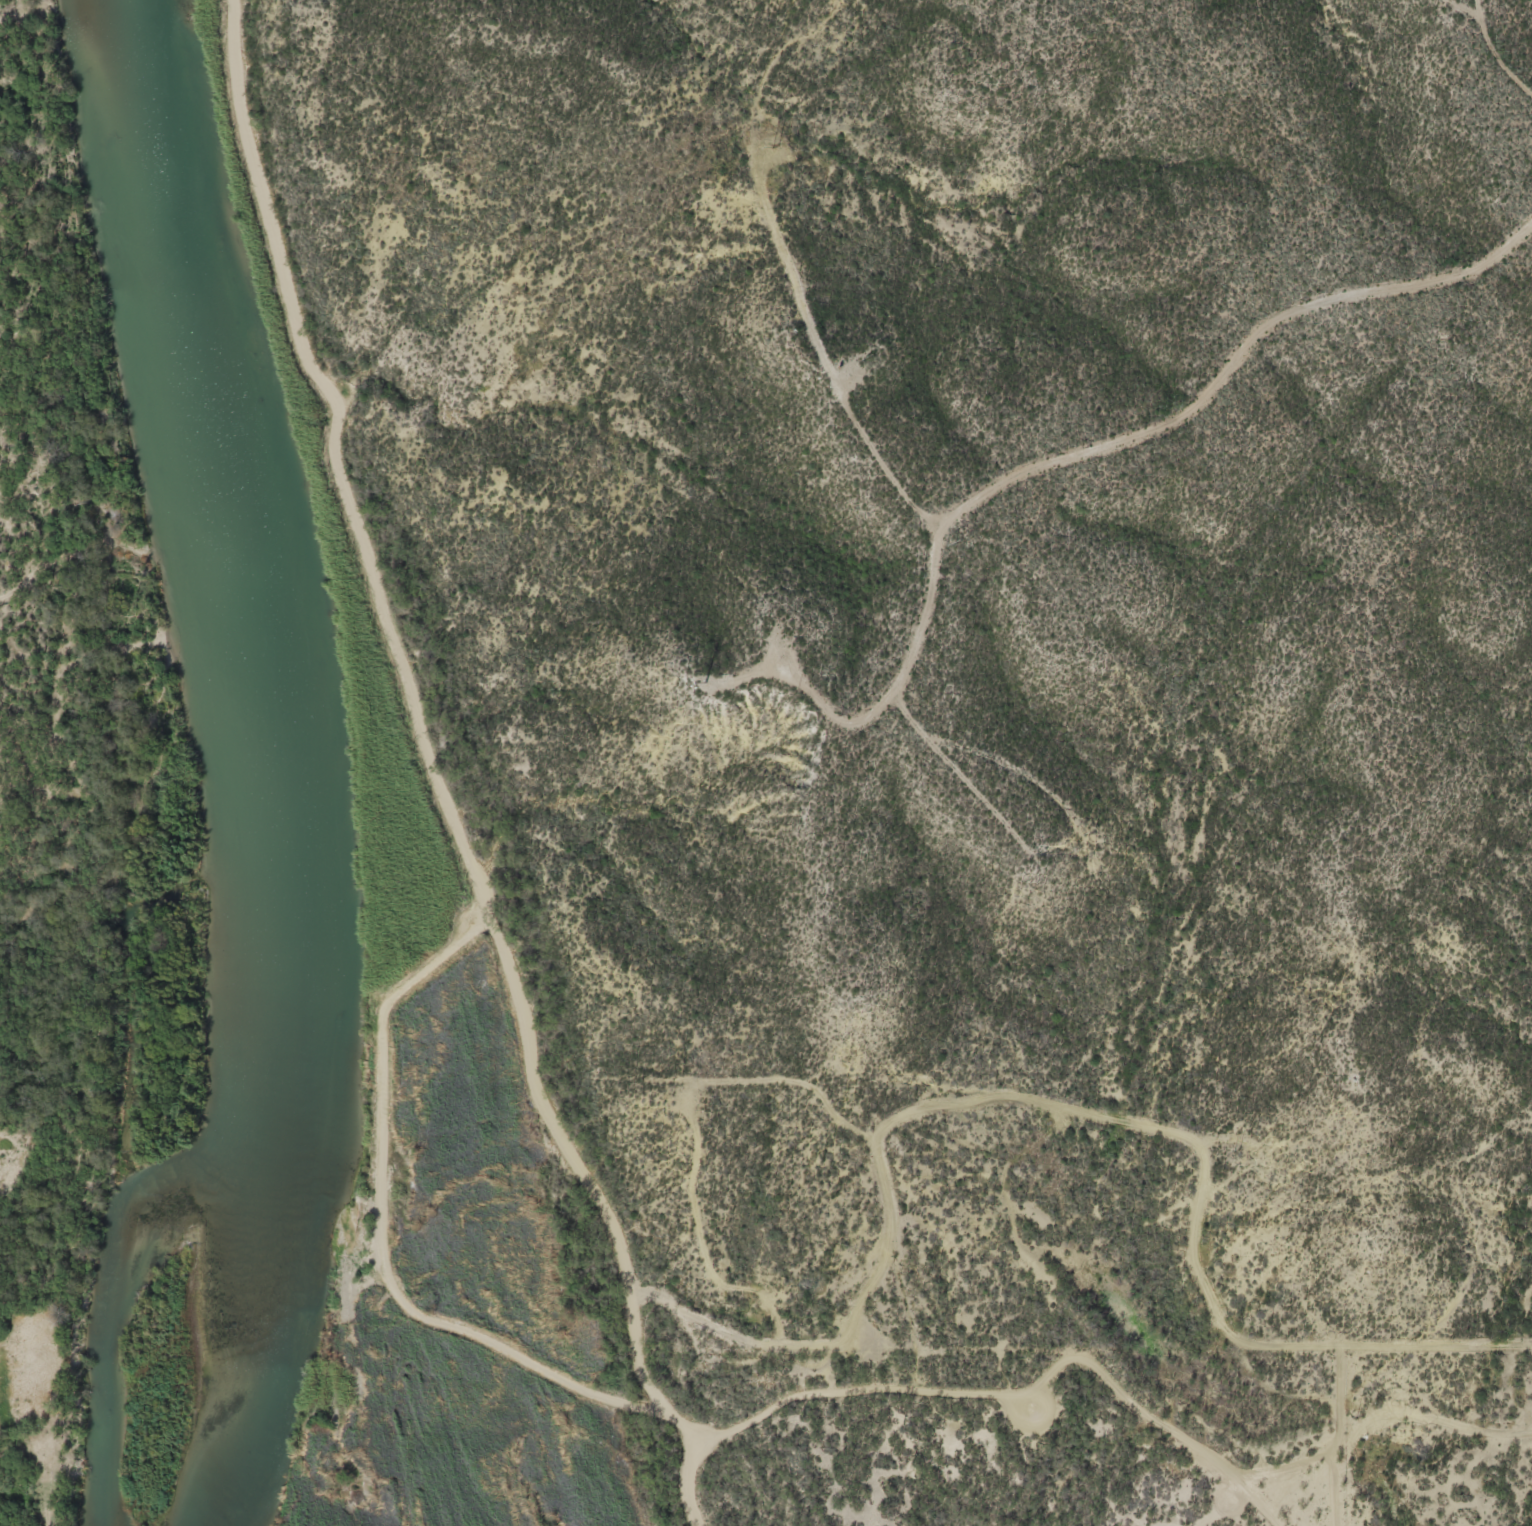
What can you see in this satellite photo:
road: (1422, 287)
road: (996, 489)
road: (397, 652)
river: (271, 765)
road: (462, 1336)
road: (1017, 1393)
road: (700, 1481)

